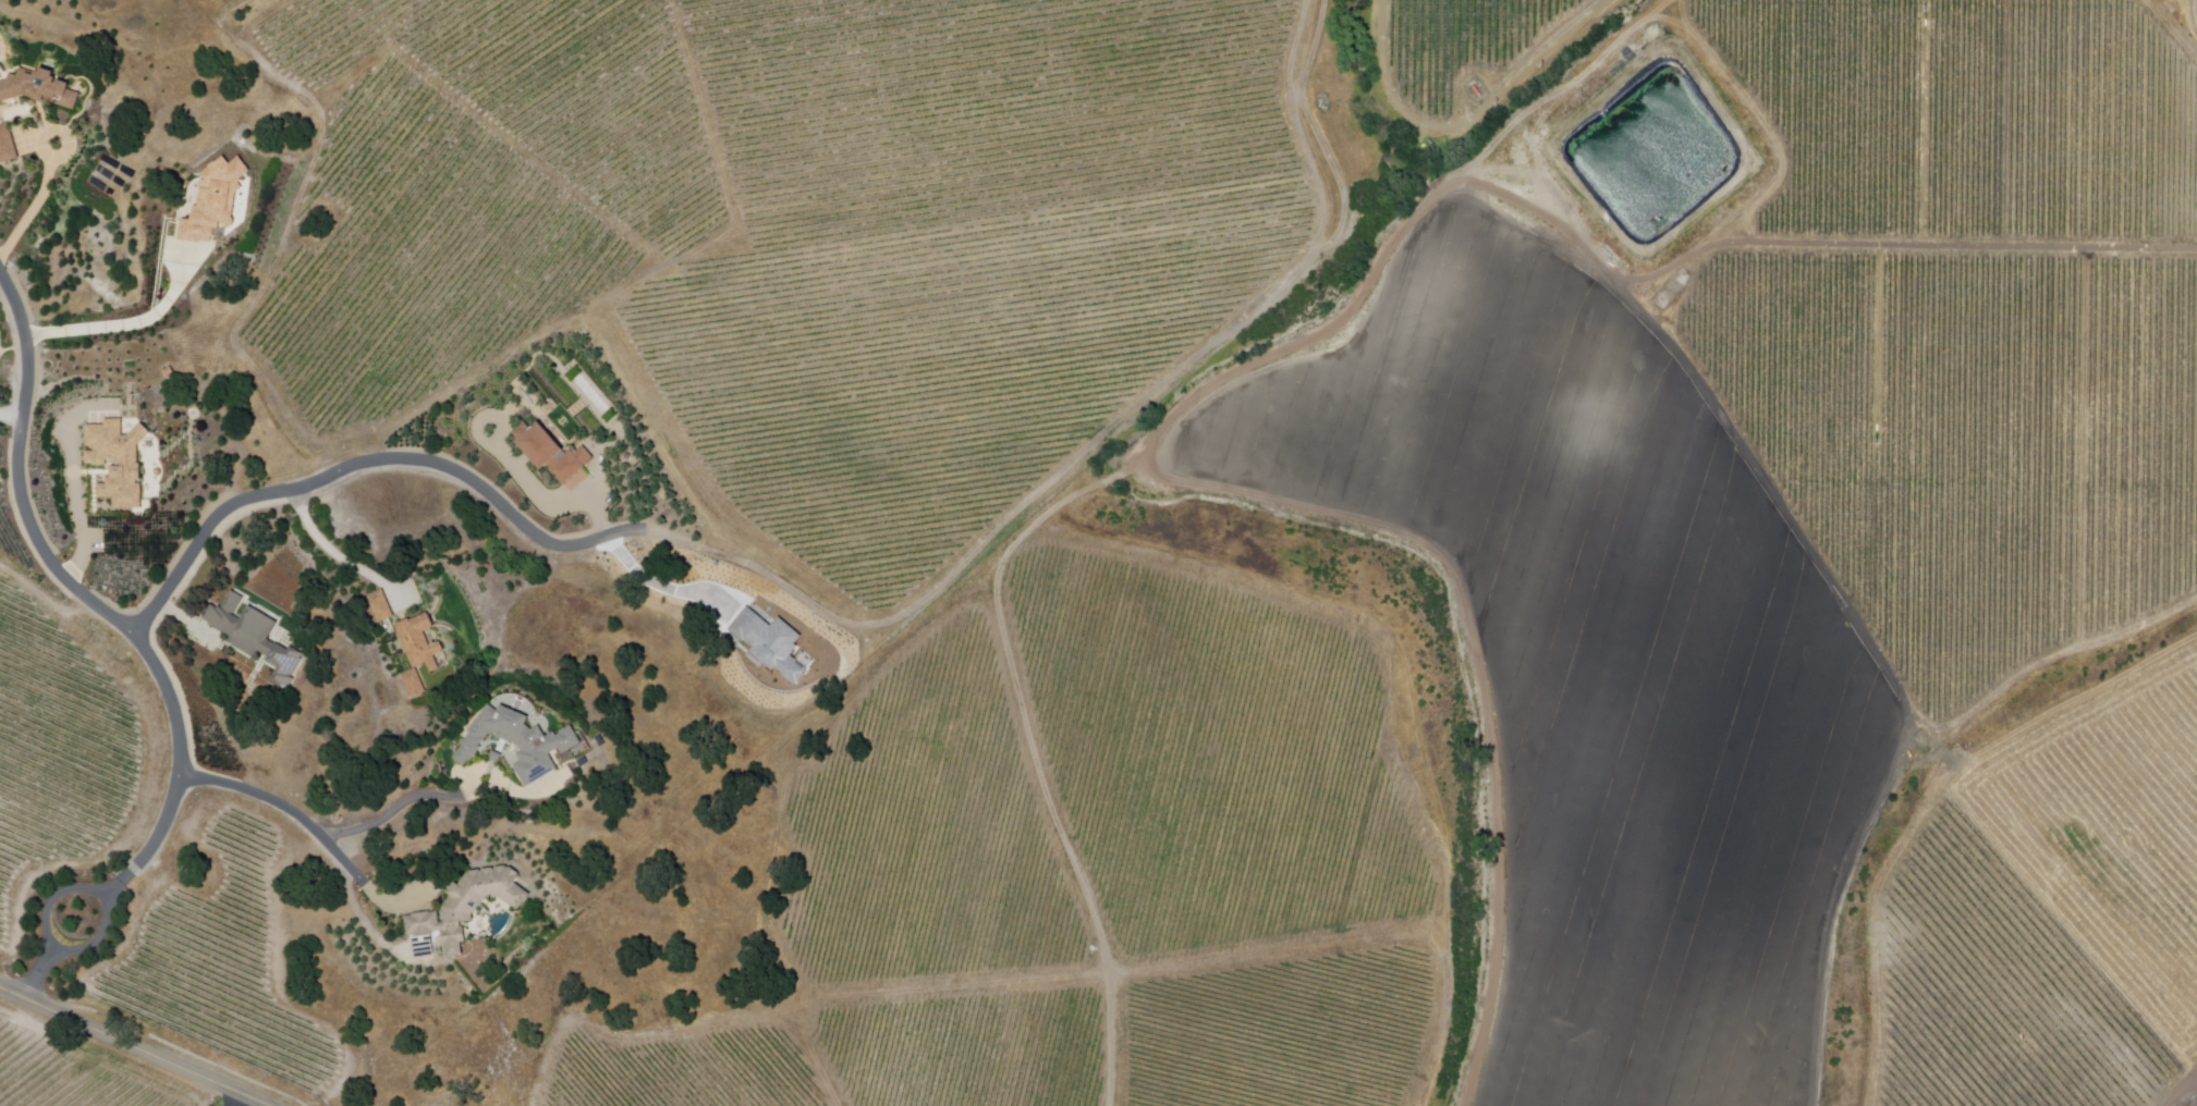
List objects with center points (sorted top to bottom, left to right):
road: (2193, 17)
building: (38, 89)
road: (61, 133)
building: (7, 146)
building: (215, 199)
road: (33, 212)
road: (3, 354)
road: (1, 356)
road: (12, 417)
building: (551, 455)
building: (118, 458)
road: (368, 463)
road: (337, 556)
road: (87, 600)
building: (378, 611)
building: (255, 639)
building: (419, 643)
building: (773, 643)
crop: (1606, 659)
building: (414, 686)
building: (520, 744)
road: (404, 806)
road: (310, 829)
road: (100, 894)
building: (468, 908)
road: (38, 974)
road: (133, 1046)
road: (243, 1101)

